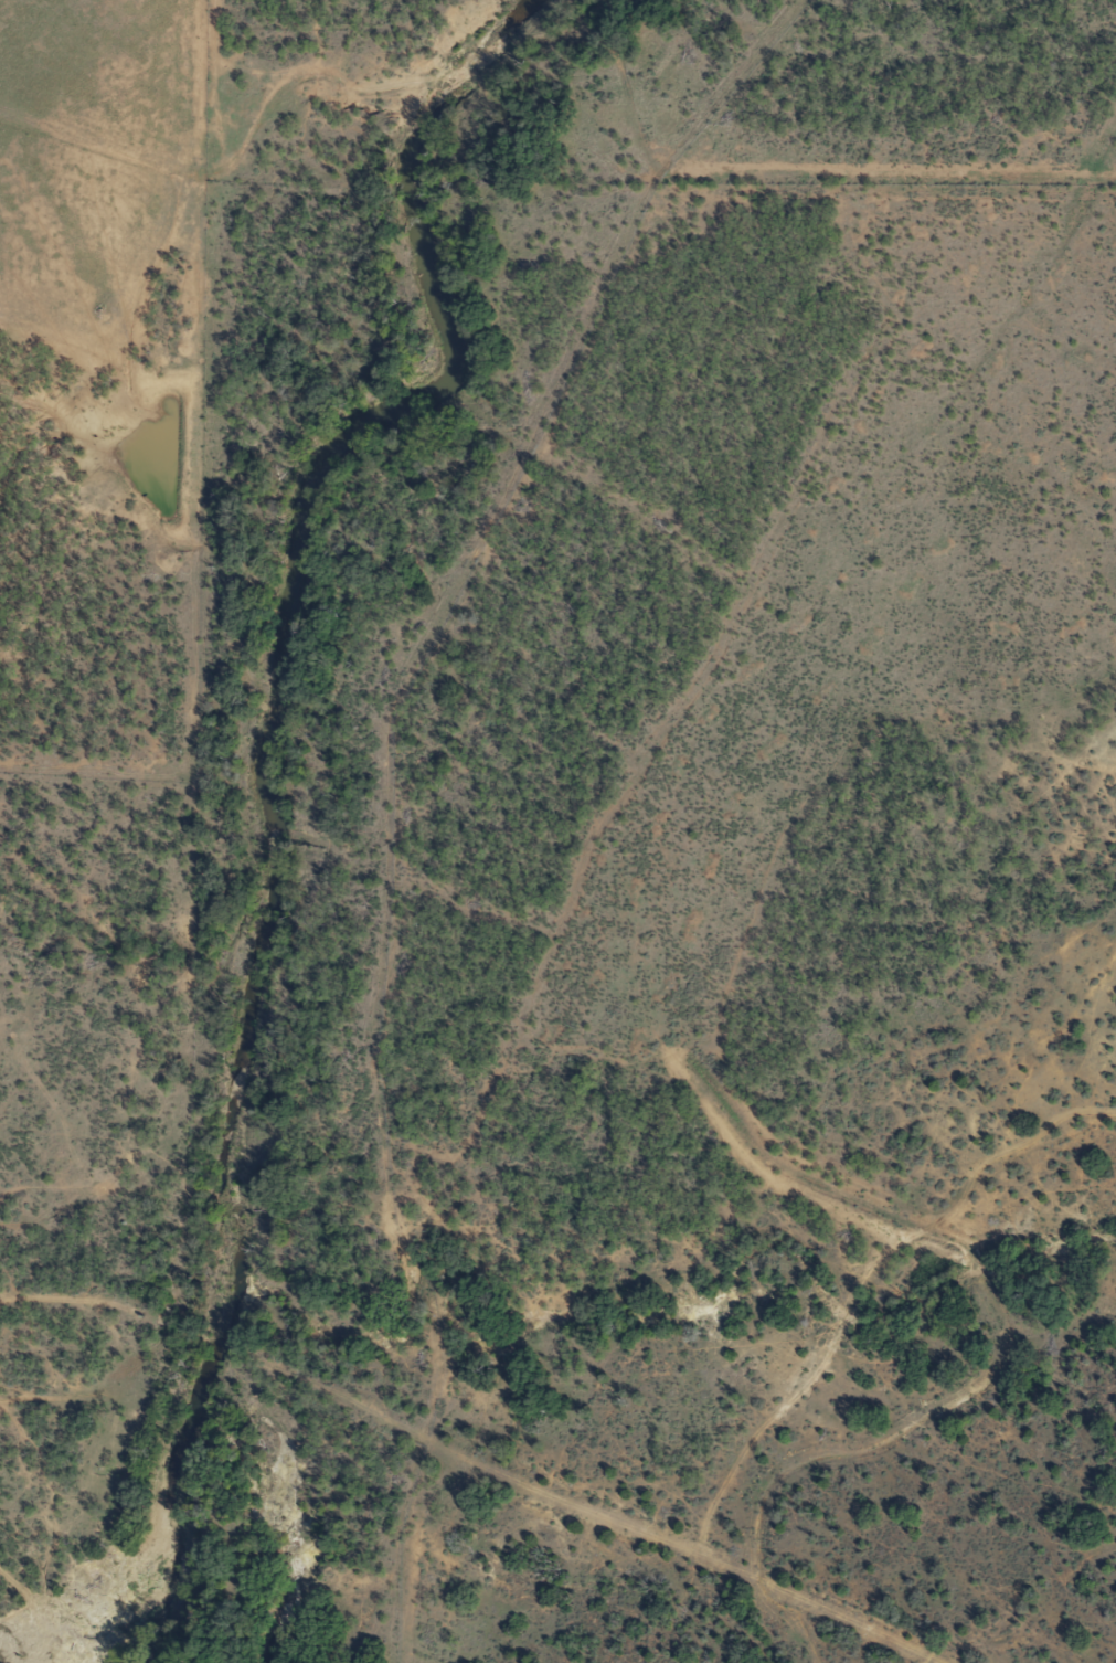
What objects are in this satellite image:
road: (492, 1462)
road: (508, 1474)

